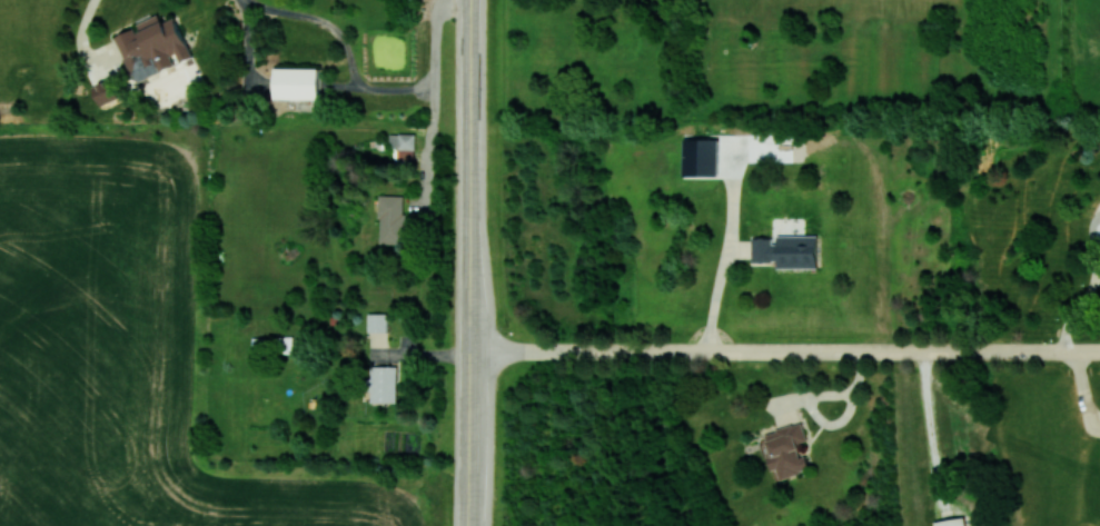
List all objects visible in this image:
road: (81, 40)
building: (153, 44)
road: (472, 66)
building: (296, 82)
road: (371, 89)
building: (106, 91)
building: (403, 147)
building: (701, 157)
building: (392, 218)
building: (786, 250)
road: (470, 298)
building: (377, 321)
road: (784, 350)
crop: (119, 353)
building: (384, 384)
building: (786, 450)
road: (468, 496)
building: (951, 522)

